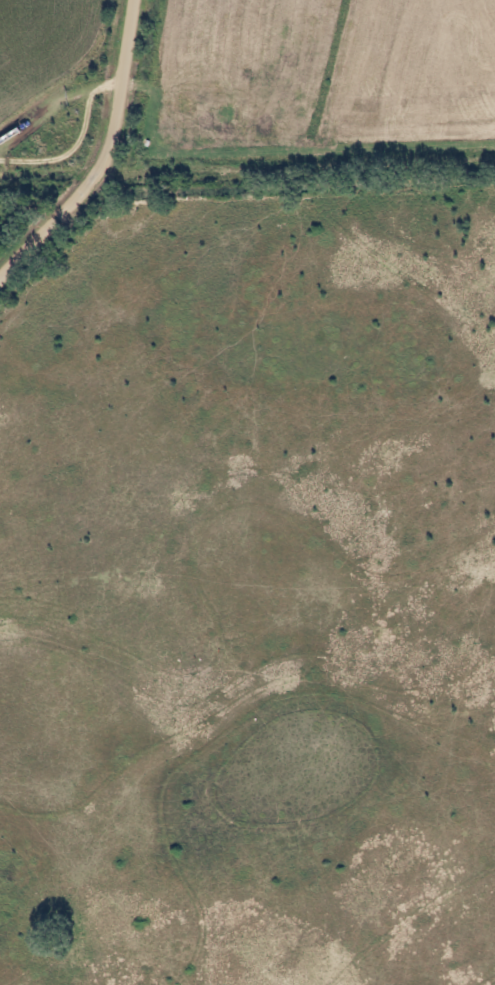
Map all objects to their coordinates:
road: (109, 160)

